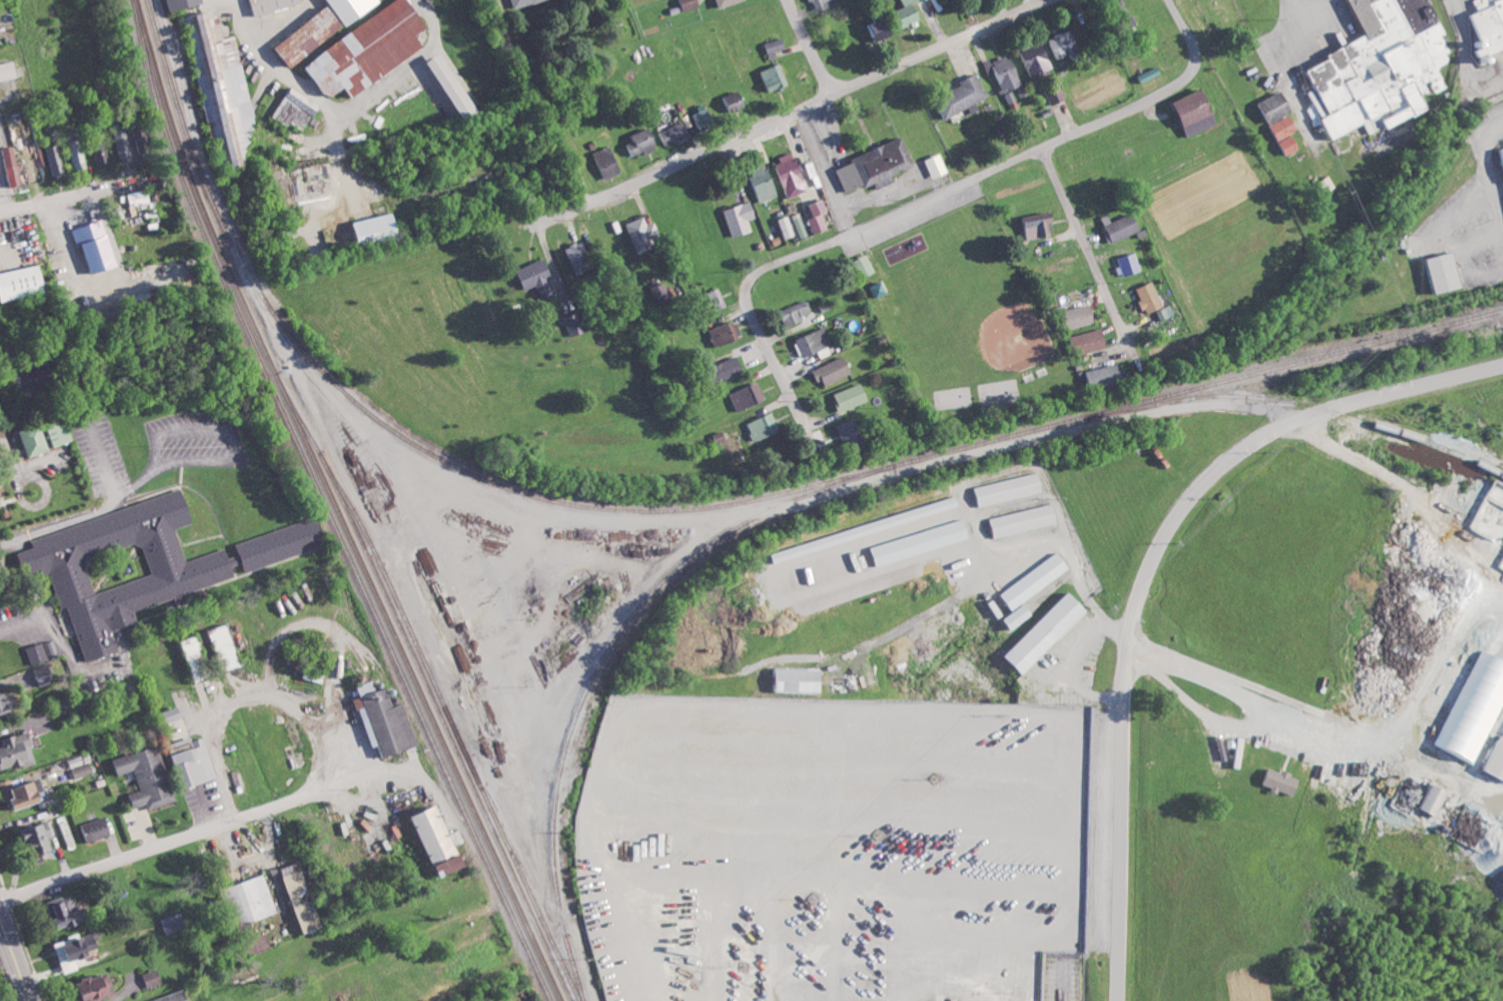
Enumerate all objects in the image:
road: (1303, 0)
building: (522, 2)
building: (727, 2)
building: (184, 4)
building: (688, 4)
building: (822, 4)
building: (272, 5)
building: (355, 8)
building: (901, 14)
building: (1115, 14)
road: (245, 22)
road: (283, 23)
building: (1484, 25)
building: (881, 29)
building: (313, 35)
building: (1057, 43)
building: (776, 45)
road: (810, 46)
building: (371, 50)
building: (1030, 59)
building: (9, 71)
building: (1378, 71)
building: (999, 72)
building: (775, 77)
building: (223, 85)
building: (456, 85)
building: (1052, 94)
road: (364, 96)
building: (956, 96)
railway: (273, 98)
building: (735, 101)
road: (540, 107)
building: (1268, 107)
building: (296, 110)
road: (797, 111)
building: (1186, 113)
building: (706, 118)
building: (1278, 128)
building: (676, 132)
building: (144, 138)
building: (123, 141)
building: (643, 142)
building: (1283, 145)
building: (77, 148)
building: (103, 154)
building: (1498, 155)
building: (56, 160)
building: (608, 161)
building: (931, 165)
building: (14, 166)
building: (876, 166)
road: (825, 172)
building: (791, 175)
building: (764, 183)
road: (936, 196)
road: (52, 197)
building: (139, 197)
railway: (1397, 203)
railway: (217, 209)
building: (818, 214)
building: (740, 218)
building: (799, 225)
building: (1031, 225)
building: (787, 227)
building: (379, 228)
building: (1115, 228)
building: (645, 234)
road: (1082, 240)
building: (98, 245)
building: (580, 257)
building: (1124, 264)
building: (866, 265)
building: (1434, 272)
building: (538, 277)
building: (24, 282)
road: (107, 282)
building: (660, 292)
building: (1144, 297)
building: (796, 313)
building: (1069, 317)
building: (571, 325)
building: (726, 333)
building: (814, 342)
building: (1081, 342)
building: (732, 366)
building: (834, 370)
building: (1096, 376)
building: (35, 384)
railway: (1194, 387)
building: (748, 396)
building: (852, 397)
railway: (1307, 404)
building: (764, 426)
building: (852, 433)
building: (48, 436)
road: (140, 482)
building: (1010, 489)
railway: (337, 505)
railway: (327, 506)
railway: (600, 506)
road: (95, 513)
building: (1025, 520)
building: (860, 531)
building: (144, 565)
road: (1146, 570)
building: (1037, 580)
building: (1020, 616)
road: (17, 625)
building: (1049, 632)
railway: (416, 640)
building: (53, 647)
building: (228, 647)
building: (38, 653)
railway: (600, 658)
building: (48, 674)
building: (801, 679)
road: (1224, 683)
railway: (426, 684)
road: (248, 697)
building: (9, 705)
road: (1203, 710)
building: (175, 714)
building: (387, 721)
building: (18, 751)
building: (1234, 752)
building: (198, 760)
building: (1493, 760)
building: (83, 770)
building: (150, 777)
building: (1274, 782)
building: (26, 793)
building: (1428, 801)
building: (96, 829)
building: (439, 835)
building: (42, 839)
road: (174, 842)
building: (457, 866)
building: (303, 897)
building: (256, 899)
building: (72, 912)
building: (175, 922)
building: (79, 951)
road: (15, 959)
building: (153, 978)
building: (101, 988)
building: (170, 998)

